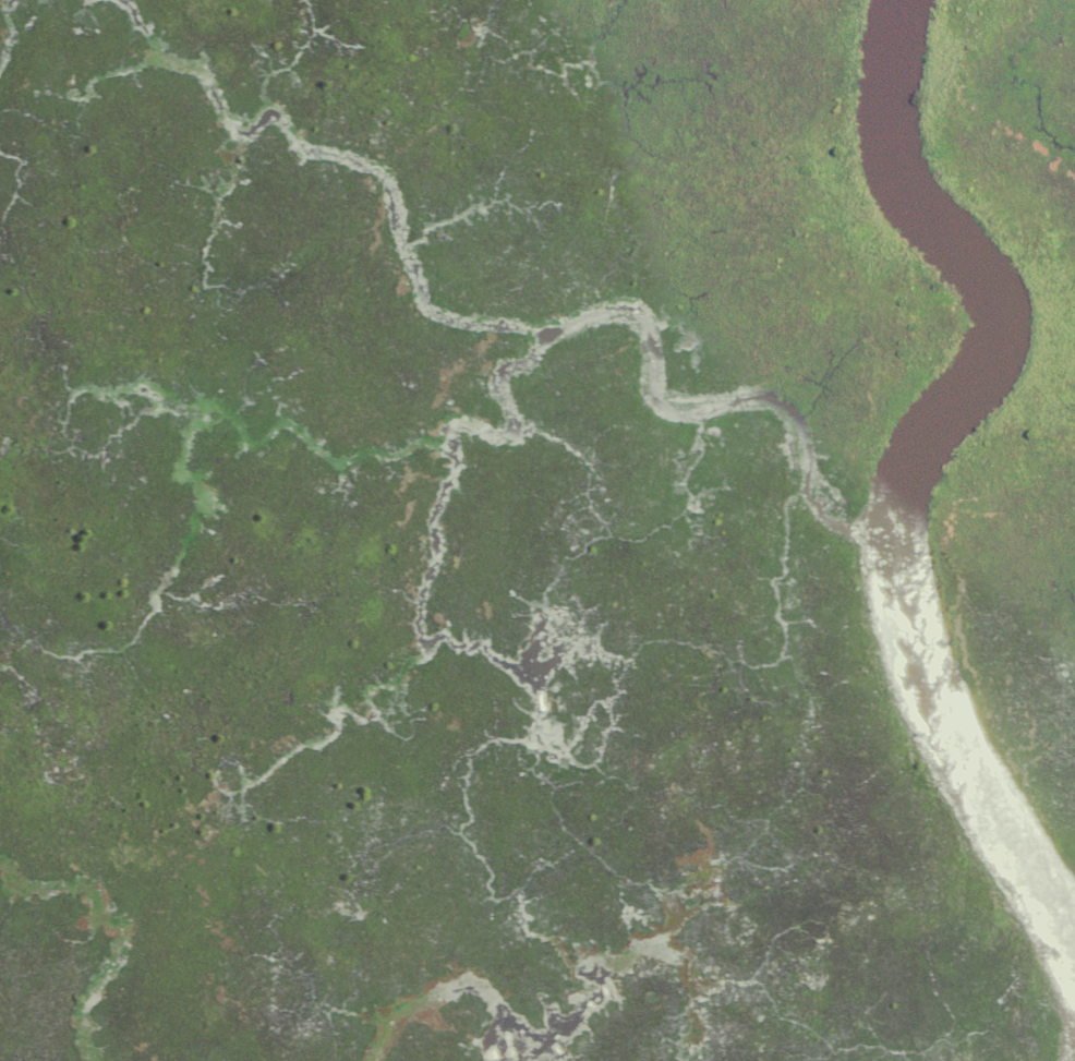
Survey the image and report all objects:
river: (910, 472)

